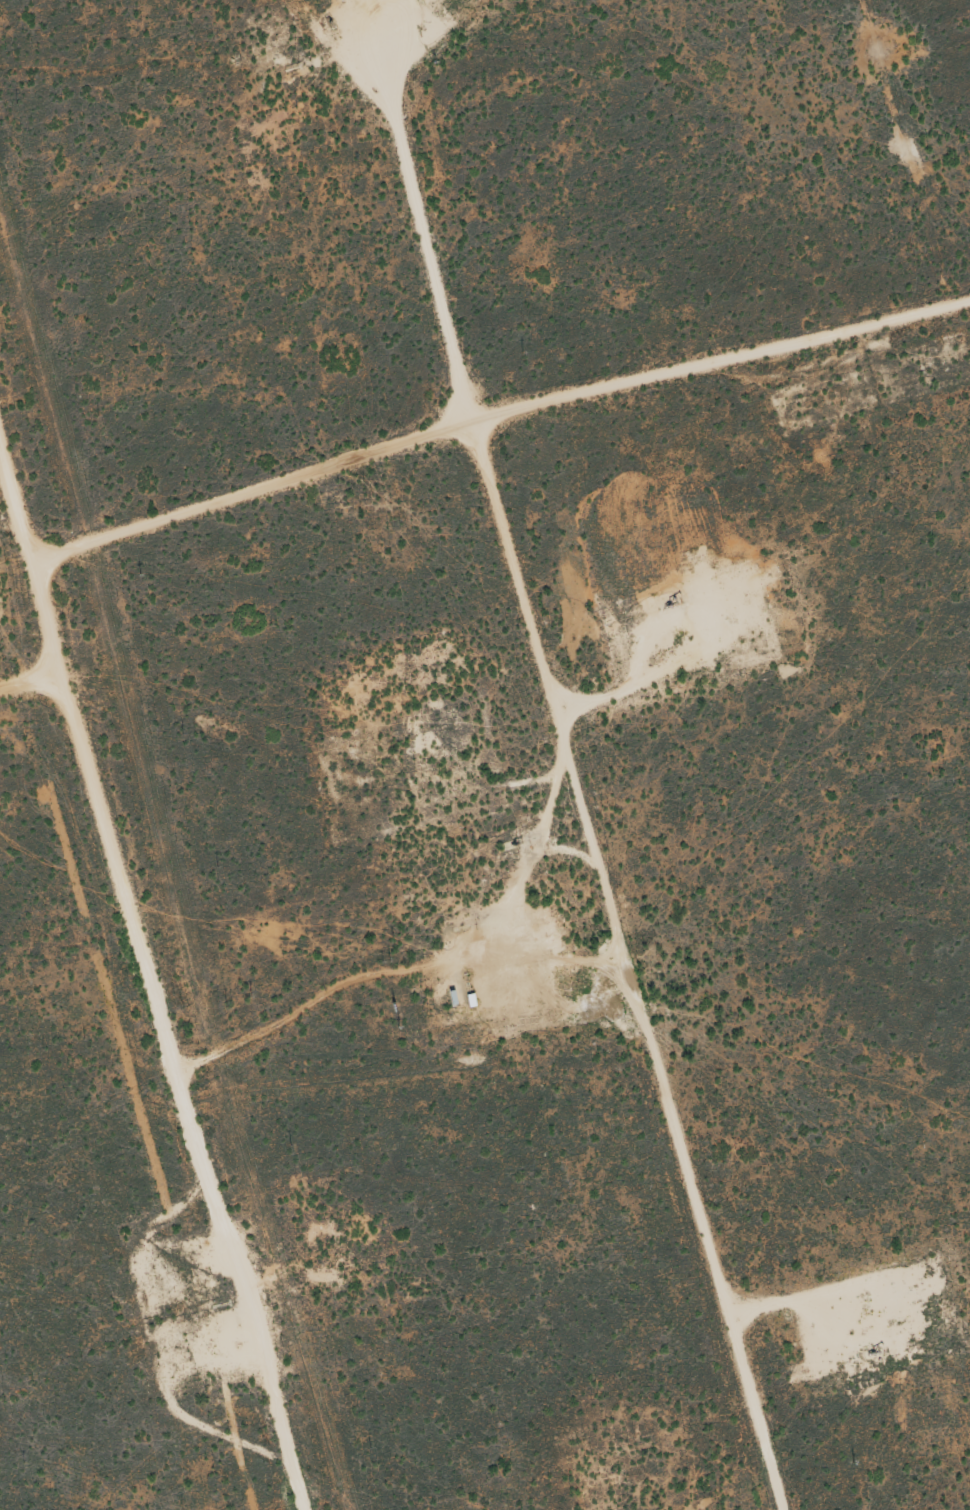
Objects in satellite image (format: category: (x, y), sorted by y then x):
road: (571, 790)
road: (150, 972)

